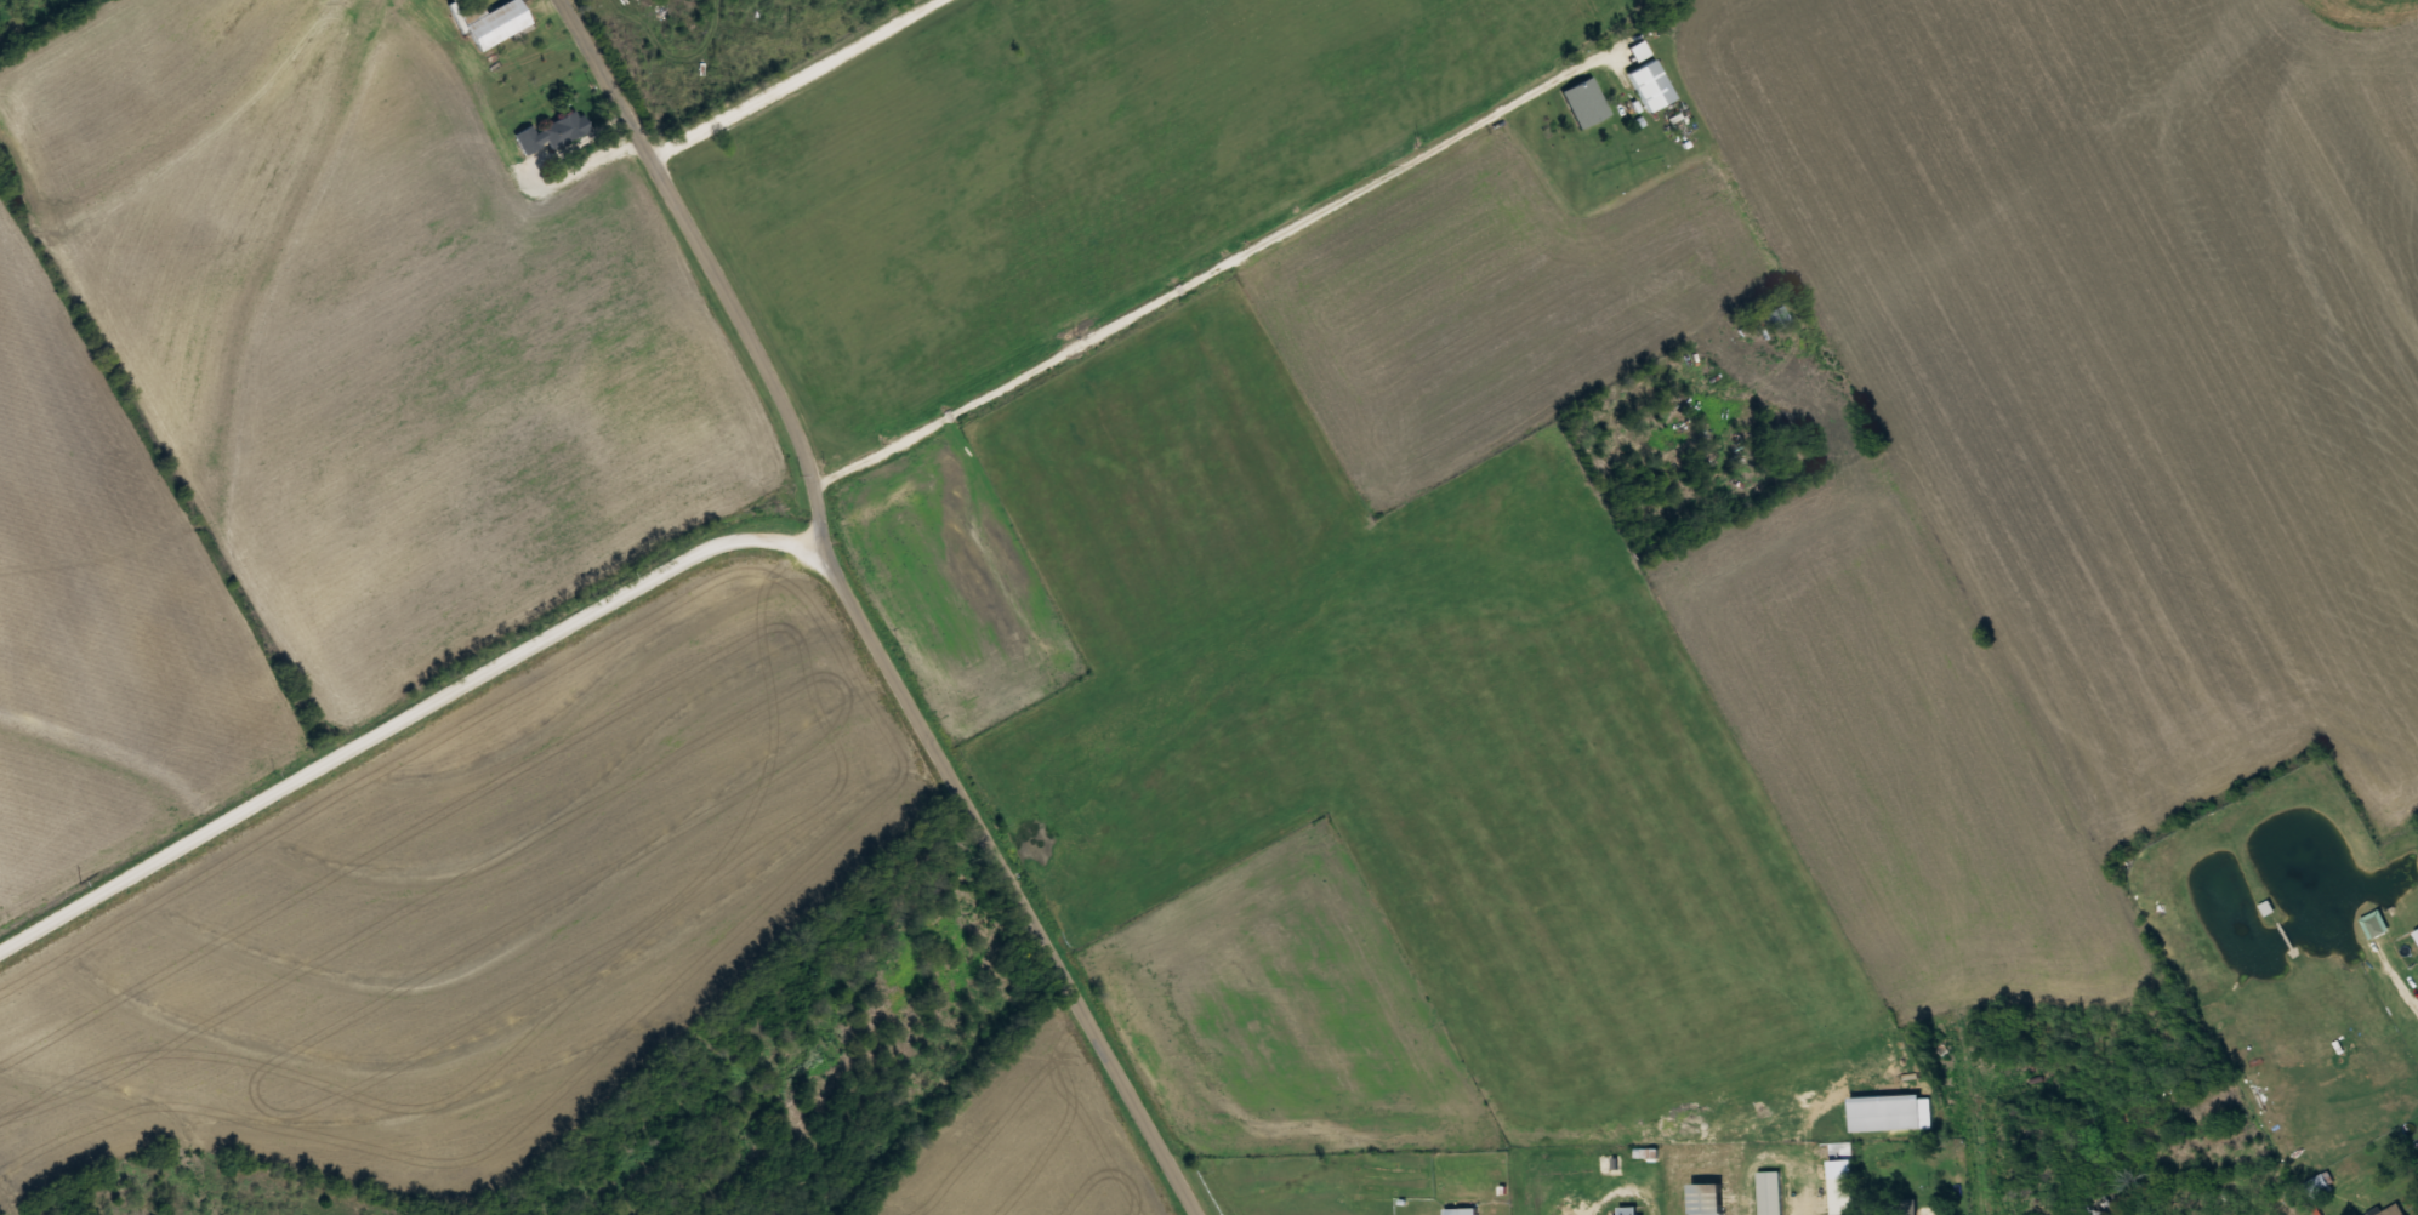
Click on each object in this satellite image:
building: (496, 22)
building: (1640, 51)
building: (1651, 86)
building: (1587, 103)
building: (557, 132)
building: (1779, 318)
road: (859, 616)
road: (404, 723)
building: (2373, 924)
building: (1610, 1164)
building: (2319, 1185)
building: (1770, 1193)
building: (1843, 1196)
building: (1709, 1199)
building: (1904, 1207)
building: (1626, 1210)
building: (2394, 1210)
building: (1461, 1211)

